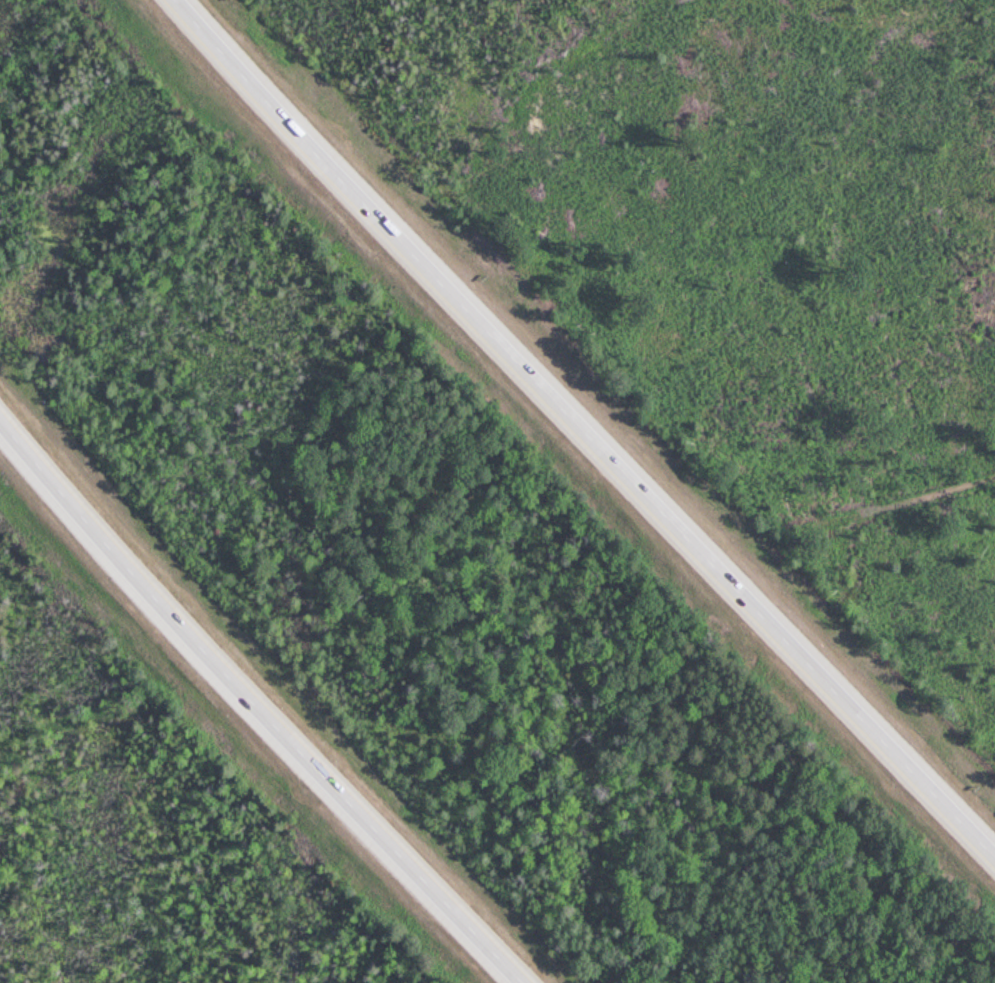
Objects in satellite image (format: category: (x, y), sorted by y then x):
road: (585, 431)
road: (260, 698)

